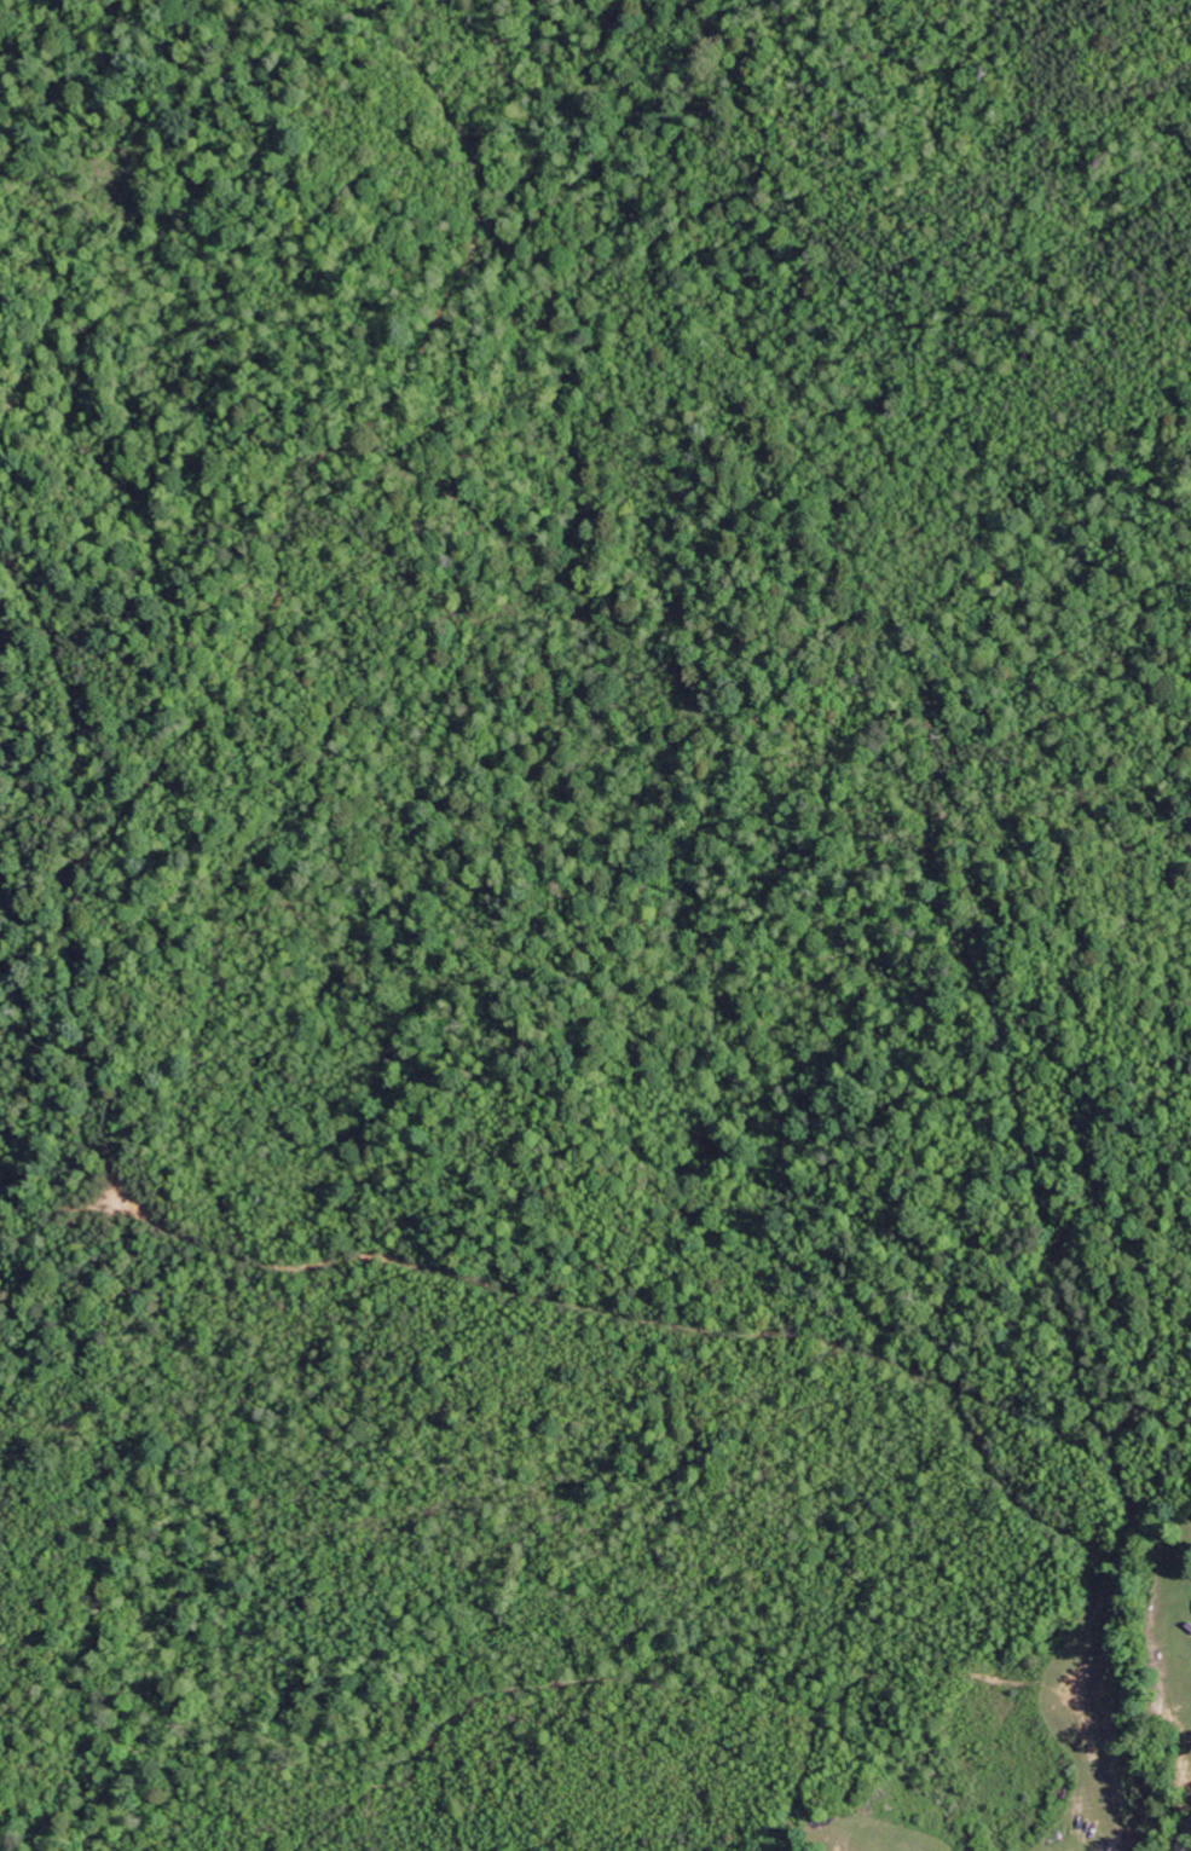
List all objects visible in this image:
road: (1185, 1841)

